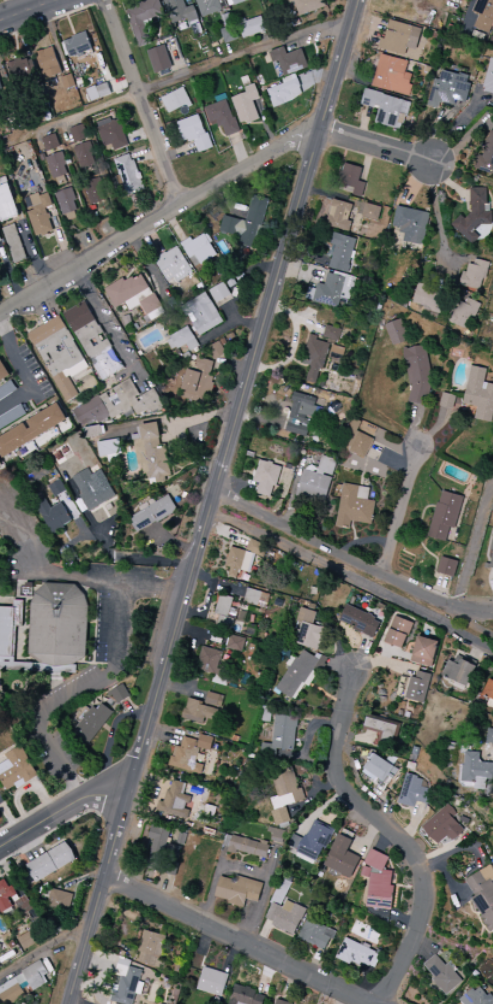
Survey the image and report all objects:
road: (188, 2)
building: (229, 2)
building: (238, 2)
road: (97, 3)
road: (19, 5)
building: (307, 5)
building: (210, 6)
road: (9, 7)
road: (26, 9)
building: (179, 11)
building: (484, 15)
building: (143, 19)
building: (227, 20)
building: (242, 20)
road: (46, 21)
building: (151, 21)
road: (71, 25)
building: (251, 27)
building: (229, 34)
road: (159, 36)
road: (54, 38)
building: (400, 39)
road: (16, 46)
building: (78, 46)
road: (176, 57)
building: (159, 59)
road: (197, 59)
building: (288, 60)
building: (48, 64)
road: (169, 71)
road: (192, 72)
building: (24, 73)
road: (316, 74)
building: (392, 75)
building: (289, 78)
building: (489, 79)
road: (323, 80)
building: (68, 81)
building: (80, 81)
building: (245, 81)
road: (4, 83)
building: (1, 86)
building: (104, 88)
building: (448, 89)
building: (93, 93)
building: (281, 93)
building: (1, 99)
building: (175, 100)
road: (141, 102)
building: (246, 105)
building: (386, 109)
road: (155, 110)
building: (198, 111)
building: (222, 117)
road: (266, 125)
road: (221, 132)
building: (78, 133)
building: (194, 133)
building: (112, 134)
road: (140, 134)
road: (226, 136)
road: (230, 136)
road: (309, 136)
building: (51, 142)
road: (240, 151)
road: (178, 152)
road: (147, 154)
building: (487, 154)
building: (84, 155)
building: (42, 157)
building: (58, 164)
road: (96, 164)
building: (127, 175)
building: (351, 179)
road: (208, 187)
building: (94, 190)
building: (66, 200)
road: (79, 200)
road: (227, 202)
building: (8, 203)
building: (256, 210)
building: (370, 212)
road: (438, 213)
building: (473, 214)
building: (339, 215)
building: (41, 216)
building: (411, 225)
road: (175, 226)
building: (239, 229)
road: (111, 231)
building: (1, 237)
building: (208, 237)
building: (14, 243)
road: (87, 243)
road: (65, 248)
building: (202, 248)
building: (189, 251)
road: (33, 252)
building: (340, 252)
road: (117, 262)
building: (172, 264)
road: (256, 266)
road: (134, 267)
road: (151, 269)
road: (9, 272)
building: (474, 274)
building: (231, 282)
building: (328, 290)
building: (219, 292)
building: (134, 295)
building: (428, 299)
road: (42, 304)
road: (41, 307)
building: (201, 313)
building: (464, 313)
road: (235, 315)
road: (105, 324)
road: (229, 325)
building: (193, 329)
building: (47, 330)
building: (396, 332)
building: (331, 333)
building: (184, 339)
building: (94, 340)
building: (222, 341)
building: (170, 343)
building: (195, 349)
building: (215, 350)
building: (337, 350)
building: (61, 351)
building: (178, 352)
road: (244, 353)
building: (186, 355)
building: (314, 358)
road: (236, 366)
building: (77, 369)
building: (4, 371)
road: (23, 372)
building: (417, 374)
road: (81, 376)
building: (196, 380)
building: (66, 386)
building: (7, 389)
road: (101, 391)
building: (479, 394)
building: (447, 398)
building: (130, 400)
road: (75, 402)
building: (92, 411)
road: (159, 412)
building: (300, 414)
building: (12, 416)
road: (192, 421)
road: (141, 422)
building: (32, 430)
building: (95, 431)
building: (137, 432)
building: (133, 437)
building: (358, 437)
building: (108, 447)
building: (151, 453)
building: (63, 454)
building: (1, 462)
building: (266, 478)
building: (316, 480)
building: (58, 488)
building: (94, 489)
road: (210, 501)
road: (141, 502)
building: (146, 504)
building: (354, 506)
building: (52, 511)
road: (401, 512)
building: (152, 513)
road: (74, 515)
building: (444, 515)
road: (107, 524)
road: (140, 532)
road: (22, 533)
road: (78, 537)
road: (103, 540)
road: (173, 541)
road: (474, 544)
road: (128, 549)
road: (351, 556)
building: (242, 558)
building: (491, 559)
road: (59, 562)
building: (446, 567)
road: (351, 578)
road: (108, 582)
road: (16, 588)
building: (255, 598)
building: (222, 611)
building: (359, 621)
building: (59, 625)
road: (471, 625)
building: (308, 630)
building: (398, 632)
building: (11, 637)
building: (235, 643)
building: (424, 651)
building: (208, 660)
building: (55, 669)
building: (459, 671)
building: (295, 674)
building: (418, 686)
road: (56, 689)
building: (488, 690)
building: (120, 694)
road: (74, 698)
road: (113, 705)
road: (128, 708)
building: (202, 708)
road: (117, 712)
building: (92, 722)
road: (108, 729)
building: (383, 730)
building: (281, 736)
building: (489, 736)
road: (111, 737)
building: (189, 753)
building: (16, 769)
building: (379, 769)
building: (476, 770)
building: (413, 792)
building: (284, 794)
building: (174, 801)
road: (60, 809)
building: (444, 826)
road: (393, 836)
building: (313, 841)
building: (157, 844)
building: (248, 847)
building: (342, 857)
building: (51, 862)
road: (247, 869)
building: (378, 881)
building: (238, 890)
building: (483, 894)
building: (6, 896)
building: (59, 900)
building: (285, 916)
building: (316, 934)
road: (238, 939)
building: (26, 940)
building: (151, 948)
road: (41, 951)
building: (358, 954)
building: (442, 974)
building: (212, 982)
building: (125, 983)
building: (23, 985)
building: (245, 996)
building: (476, 997)
building: (280, 1002)

